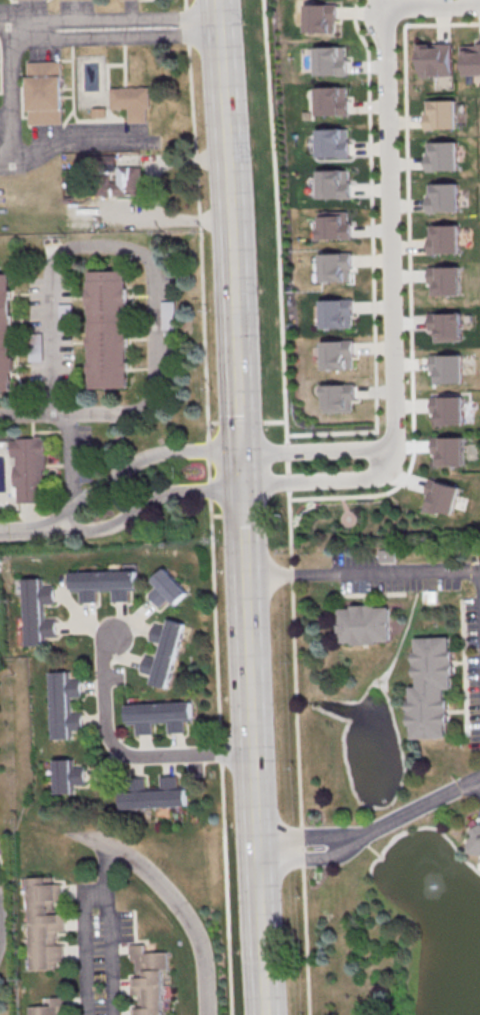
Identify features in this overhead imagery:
road: (117, 16)
road: (12, 20)
road: (118, 36)
building: (471, 59)
building: (436, 60)
building: (44, 92)
road: (15, 102)
building: (132, 102)
building: (331, 105)
building: (439, 120)
road: (66, 139)
building: (332, 147)
building: (440, 162)
building: (121, 180)
road: (390, 180)
building: (332, 189)
building: (441, 204)
road: (407, 219)
building: (333, 230)
road: (231, 242)
building: (443, 245)
road: (99, 248)
road: (278, 250)
building: (334, 272)
building: (444, 285)
road: (372, 290)
building: (168, 314)
building: (65, 315)
building: (335, 319)
building: (446, 332)
building: (109, 334)
building: (5, 338)
building: (336, 359)
building: (338, 402)
road: (73, 414)
building: (451, 450)
road: (393, 459)
road: (142, 463)
building: (30, 469)
road: (337, 499)
road: (149, 500)
road: (210, 507)
road: (242, 531)
road: (34, 532)
building: (387, 555)
road: (362, 573)
building: (104, 584)
building: (168, 589)
building: (37, 612)
building: (365, 625)
building: (164, 653)
building: (431, 688)
building: (63, 705)
building: (159, 716)
road: (123, 756)
road: (298, 758)
building: (65, 776)
building: (155, 794)
road: (253, 796)
road: (411, 811)
building: (474, 839)
road: (300, 842)
building: (0, 846)
road: (300, 854)
road: (178, 900)
building: (43, 923)
road: (104, 930)
building: (147, 980)
building: (49, 1007)

